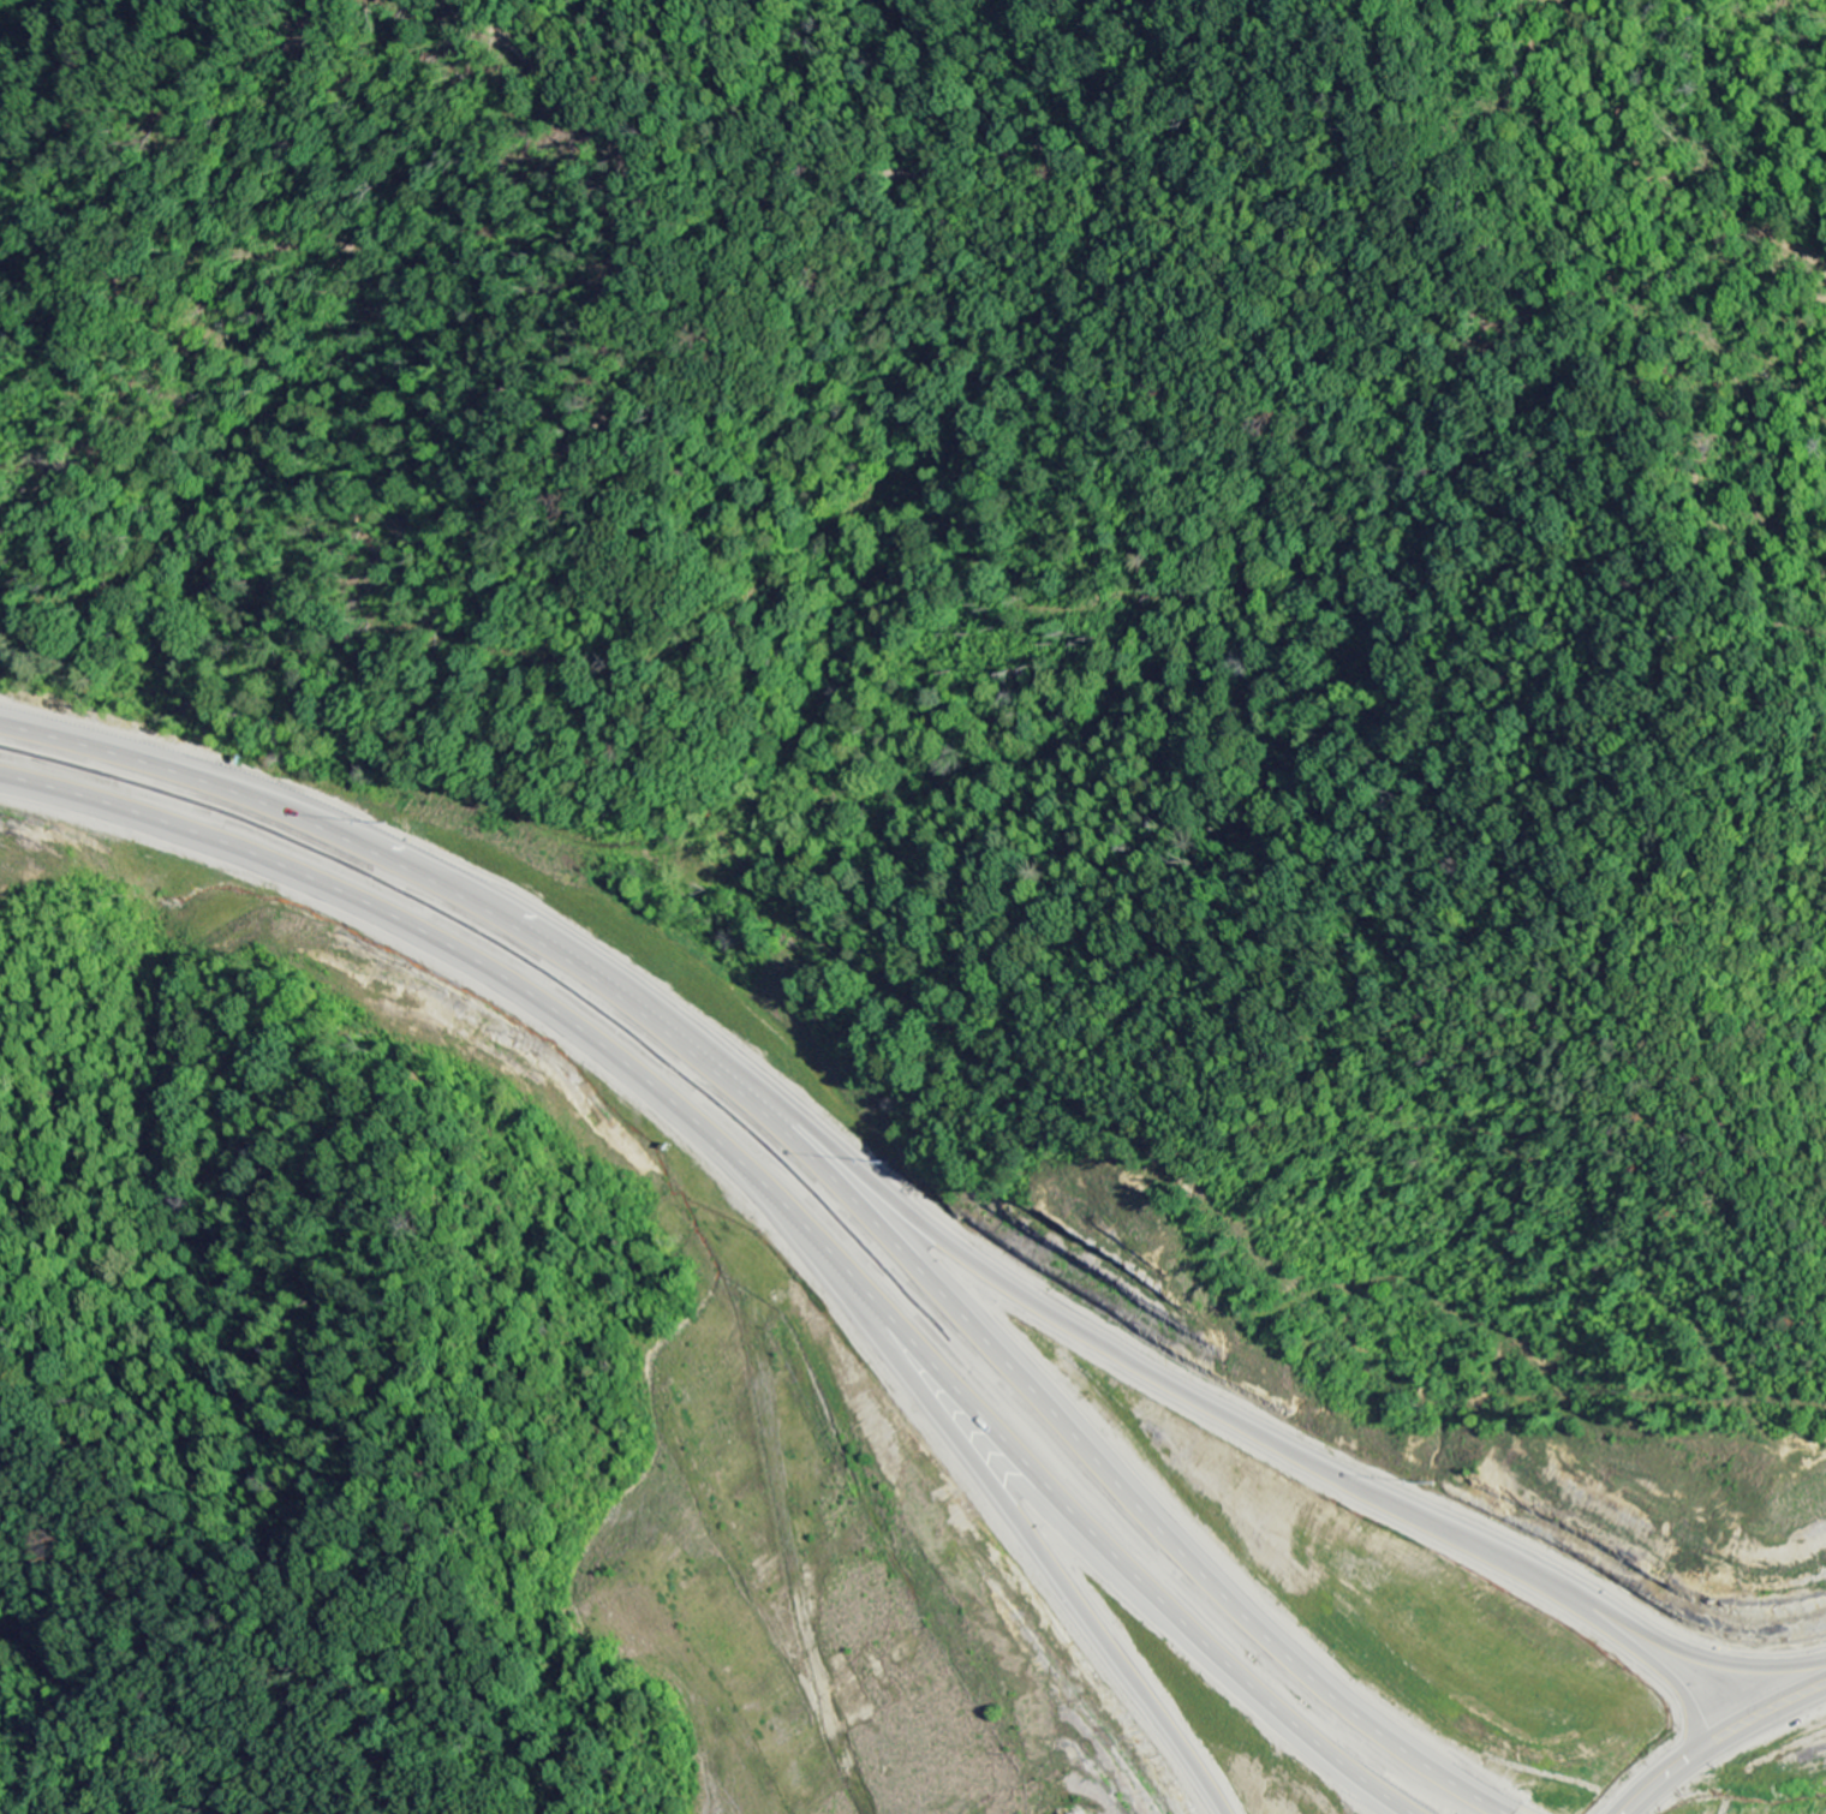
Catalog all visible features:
road: (812, 1170)
road: (759, 1189)
road: (1203, 1413)
road: (1001, 1521)
road: (1712, 1738)

